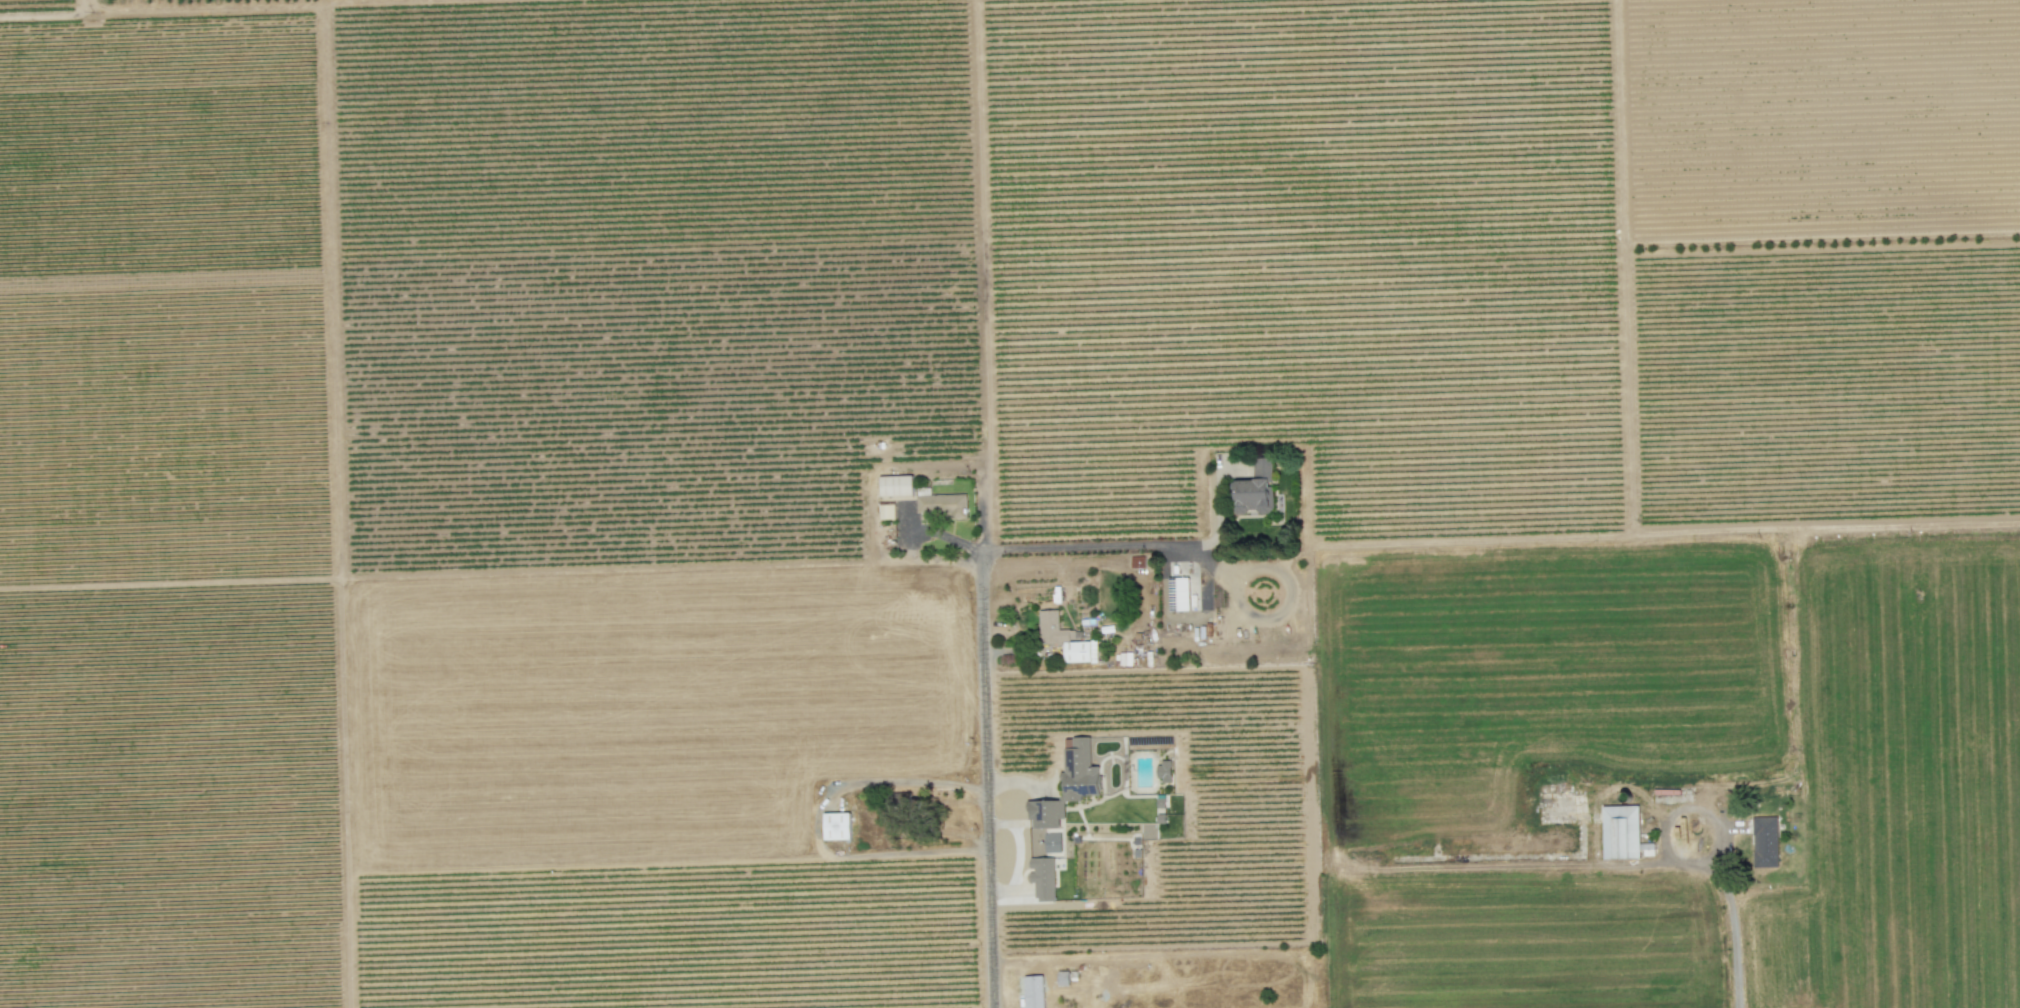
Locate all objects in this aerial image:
building: (895, 485)
building: (1255, 489)
building: (943, 504)
building: (886, 511)
road: (1199, 557)
road: (451, 577)
building: (1182, 592)
building: (1065, 638)
road: (991, 734)
building: (1163, 771)
road: (872, 781)
building: (1064, 794)
road: (1675, 809)
building: (836, 825)
building: (1621, 831)
building: (1764, 841)
road: (671, 865)
building: (1042, 877)
road: (1733, 933)
building: (1034, 991)

